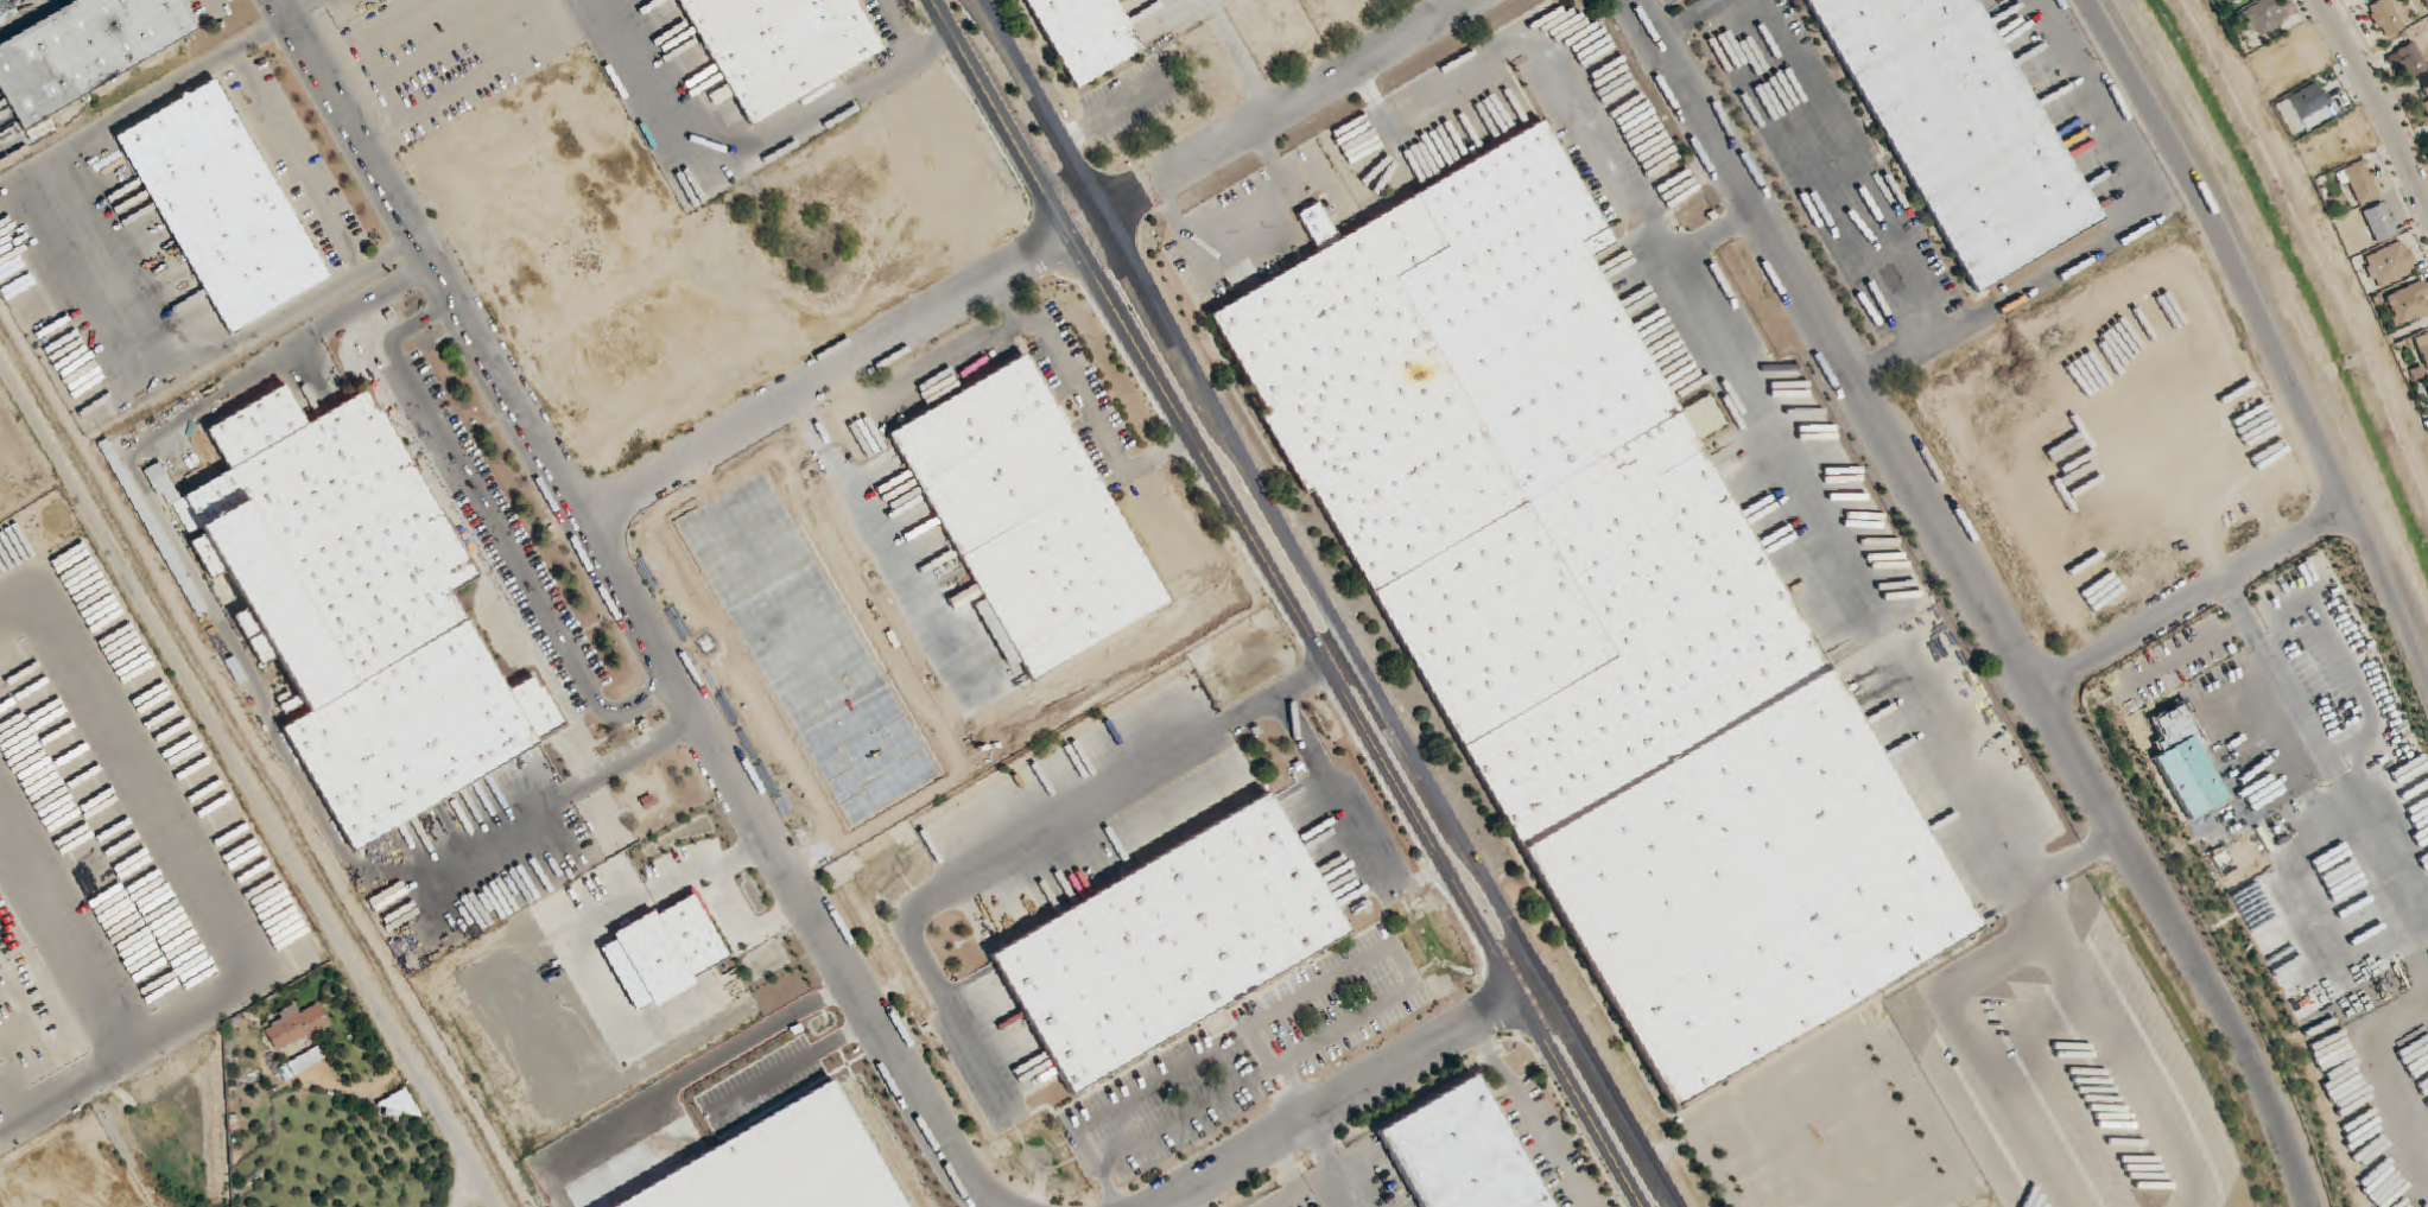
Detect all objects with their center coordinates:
building: (2233, 1)
building: (9, 5)
building: (2262, 18)
building: (2386, 18)
road: (1686, 19)
building: (1083, 34)
building: (780, 45)
building: (2411, 61)
building: (2426, 91)
road: (2375, 99)
building: (2303, 106)
building: (2424, 106)
road: (1037, 109)
road: (1001, 120)
road: (1268, 120)
building: (1958, 127)
building: (2360, 182)
building: (222, 207)
road: (1885, 211)
building: (2381, 222)
building: (2390, 265)
building: (2408, 305)
road: (2265, 333)
road: (1836, 344)
building: (2422, 347)
road: (947, 367)
road: (825, 377)
building: (2427, 388)
building: (1027, 520)
building: (962, 598)
road: (2193, 599)
road: (634, 608)
building: (360, 610)
building: (1593, 617)
road: (1387, 712)
road: (1354, 723)
road: (246, 783)
road: (1337, 789)
road: (1034, 837)
road: (738, 901)
building: (1167, 944)
road: (2183, 944)
building: (296, 1027)
road: (1356, 1095)
road: (1202, 1112)
building: (1462, 1154)
road: (1336, 1164)

